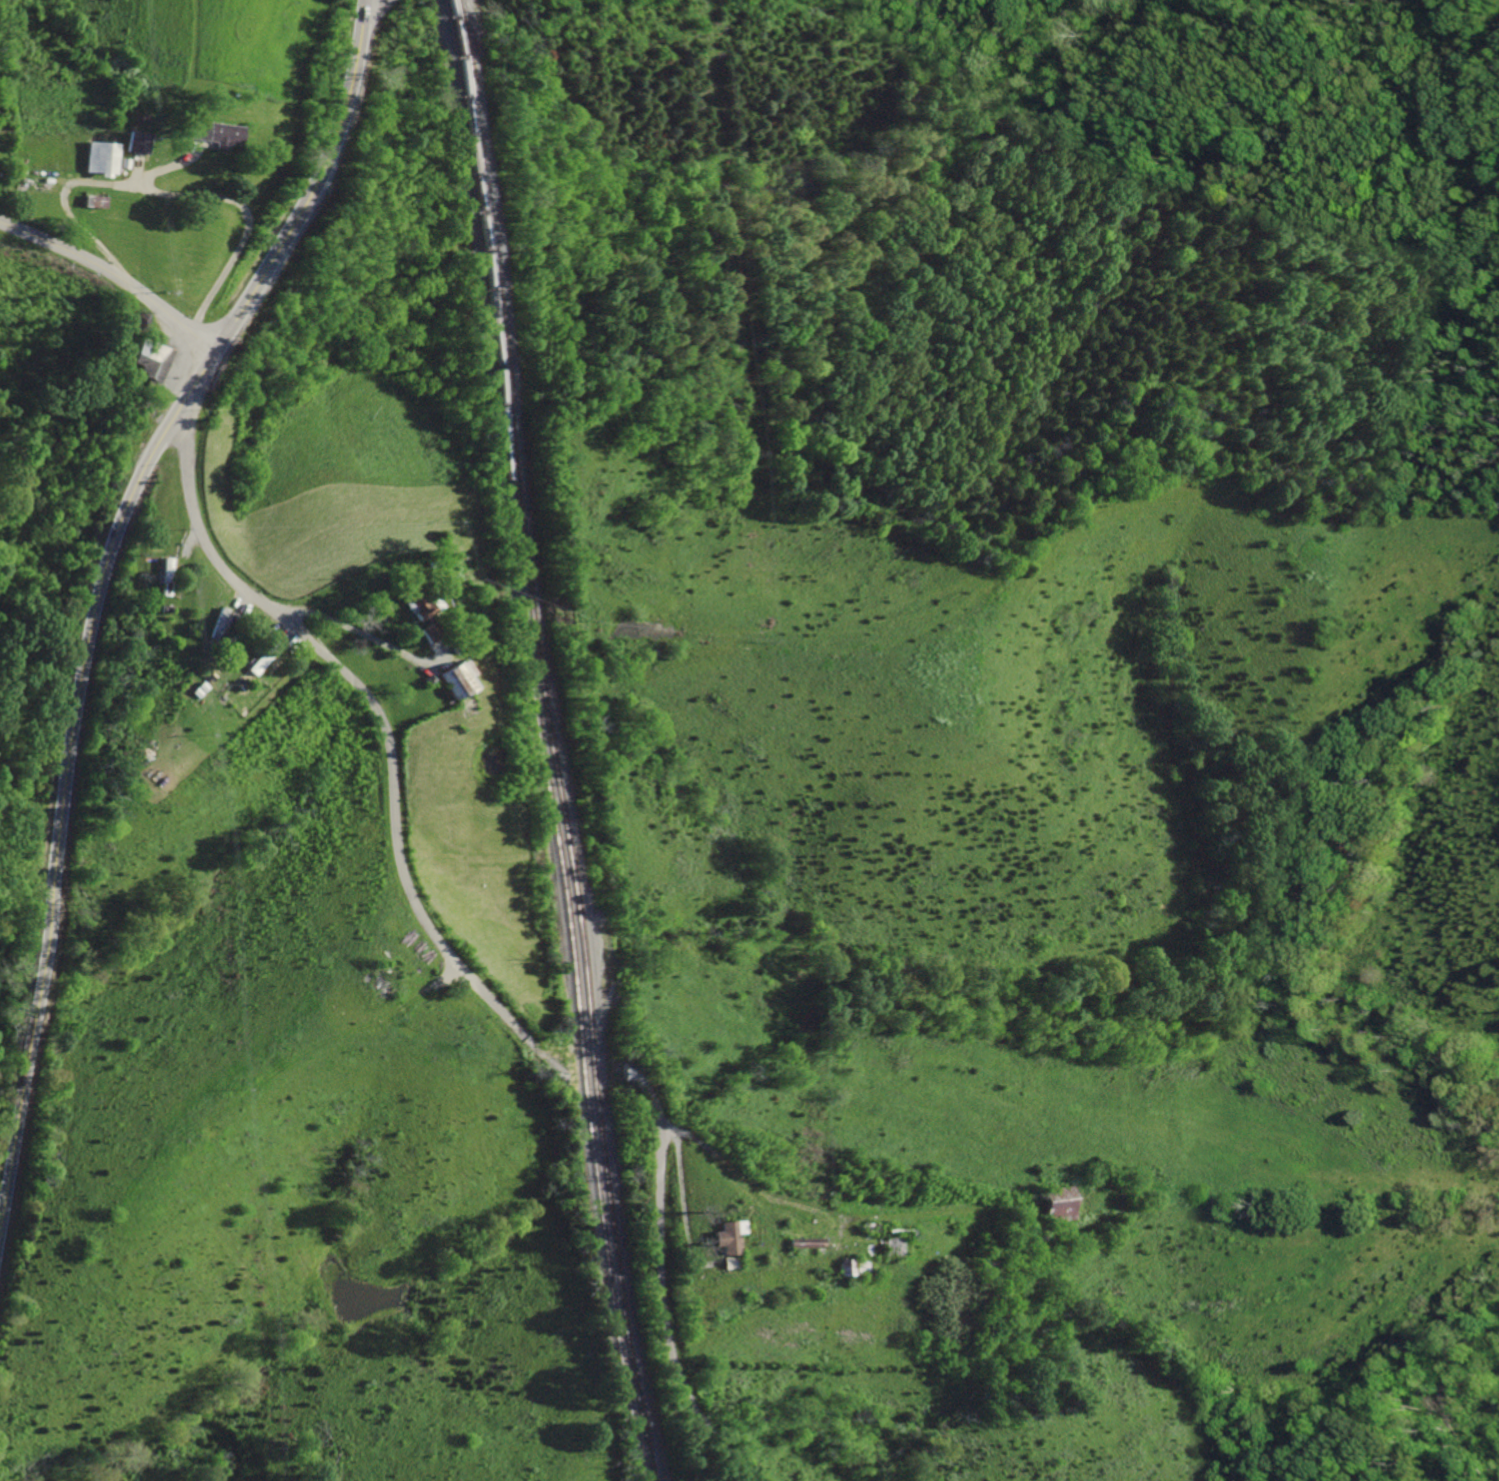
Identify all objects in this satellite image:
road: (370, 21)
building: (211, 133)
building: (98, 159)
building: (91, 200)
road: (113, 274)
building: (149, 360)
road: (101, 593)
building: (410, 602)
building: (453, 677)
road: (382, 725)
railway: (543, 741)
railway: (551, 741)
building: (1050, 1204)
building: (721, 1237)
building: (837, 1268)
road: (663, 1301)

